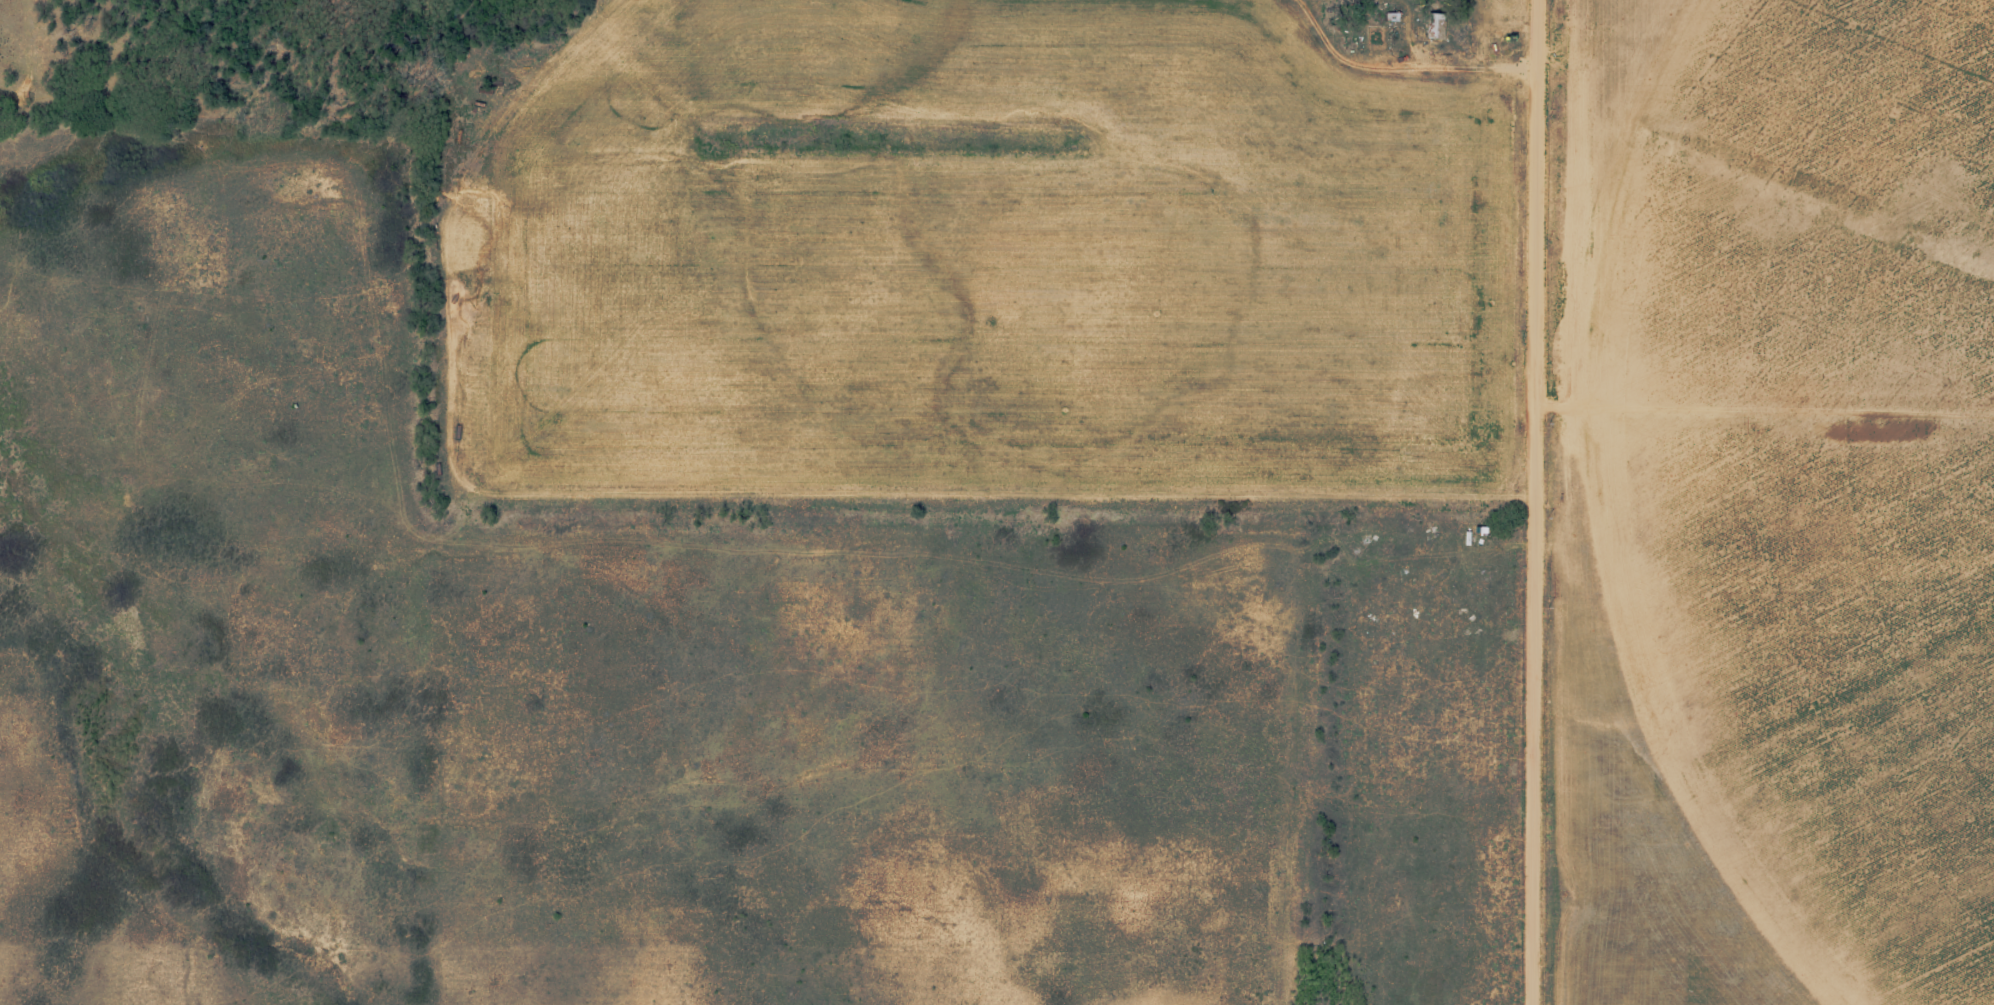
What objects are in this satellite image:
building: (1435, 25)
building: (1375, 36)
road: (1534, 502)

